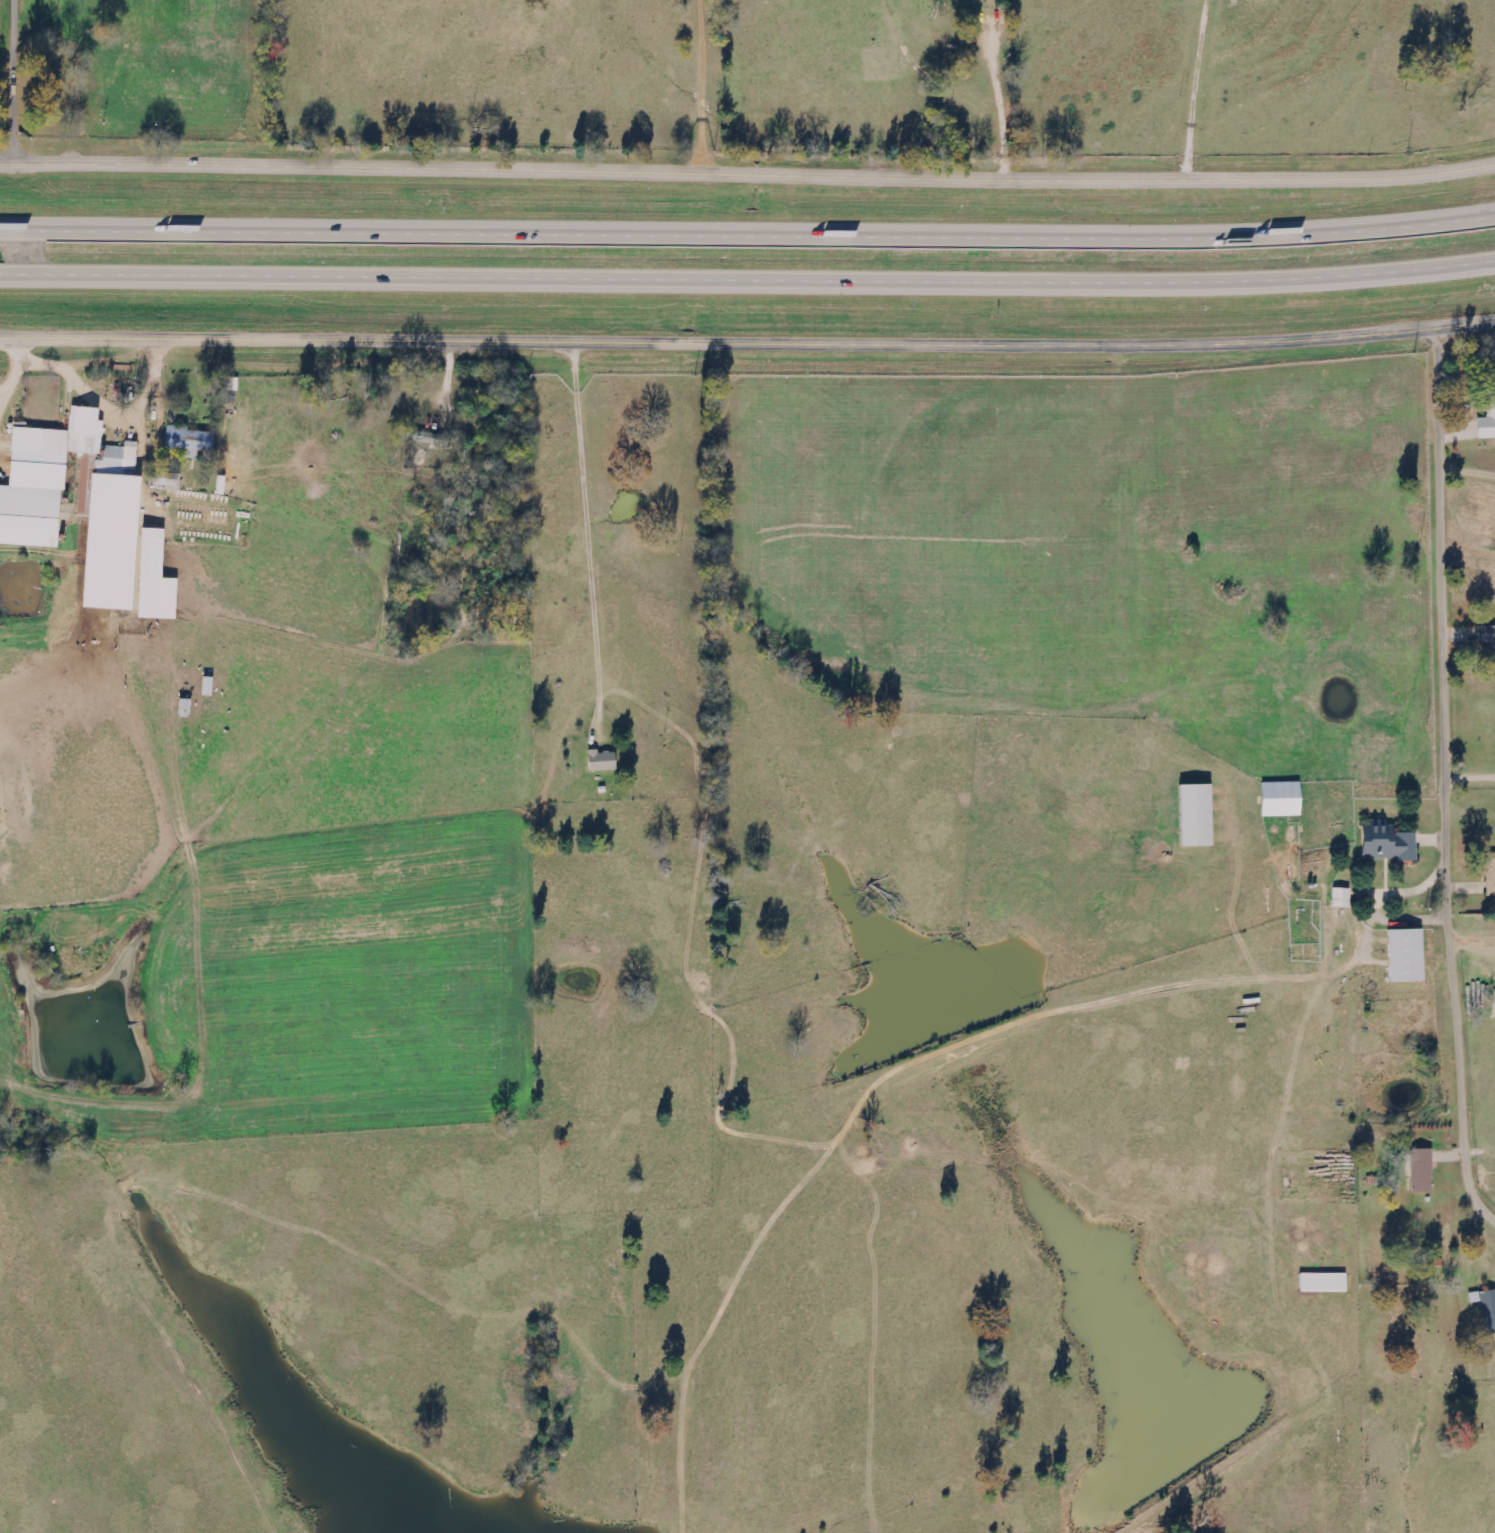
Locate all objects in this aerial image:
road: (704, 86)
road: (747, 173)
road: (747, 233)
road: (747, 281)
road: (747, 343)
building: (1488, 425)
building: (431, 439)
building: (190, 442)
building: (44, 479)
building: (167, 481)
building: (115, 530)
building: (154, 553)
building: (1491, 638)
building: (603, 761)
road: (1452, 775)
building: (1282, 799)
building: (1197, 816)
building: (1389, 844)
building: (1491, 874)
building: (1342, 898)
building: (1407, 956)
building: (1423, 1170)
building: (1324, 1283)
building: (1486, 1309)

